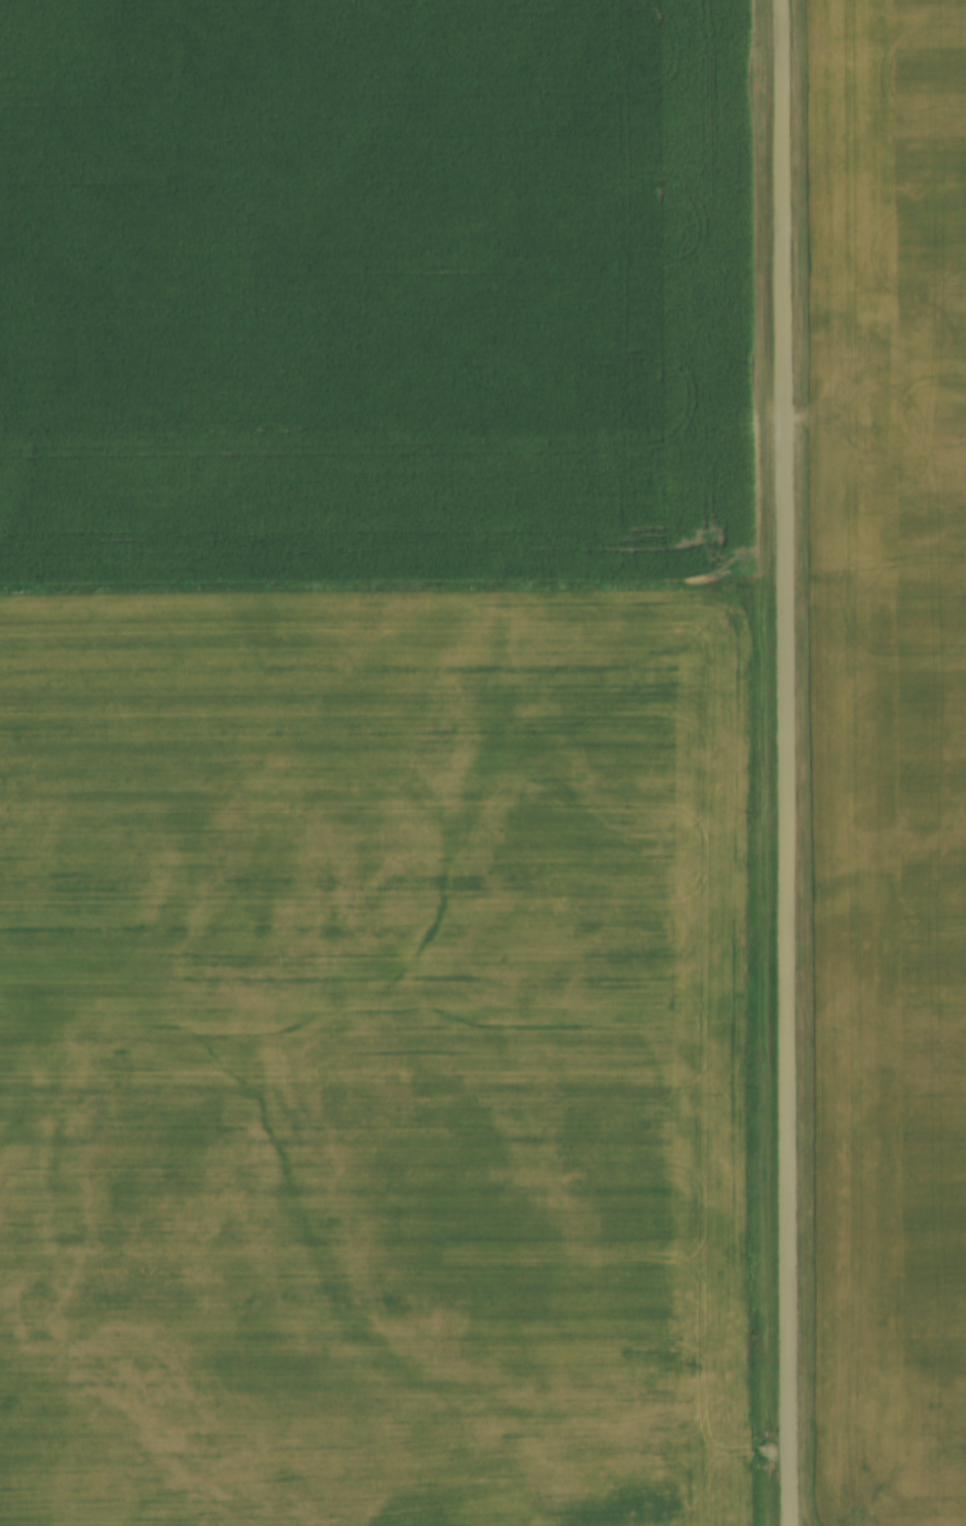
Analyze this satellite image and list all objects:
road: (787, 763)

